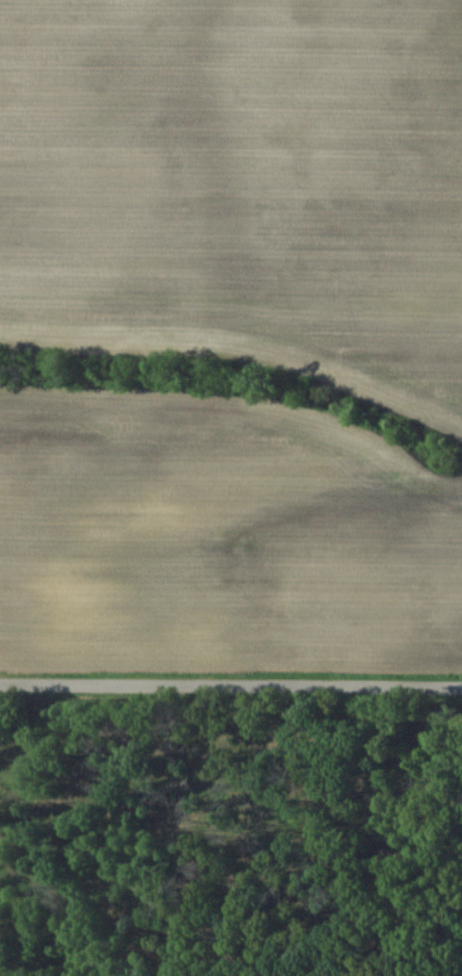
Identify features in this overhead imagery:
road: (231, 682)

